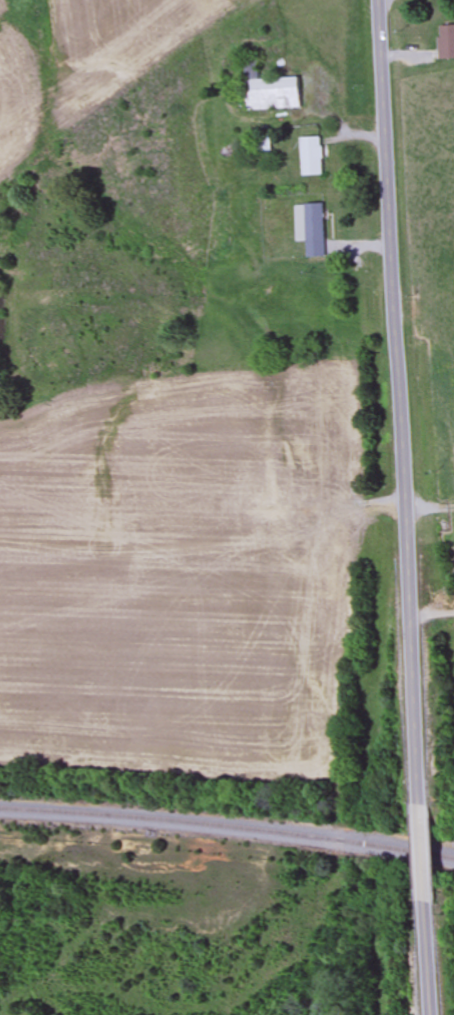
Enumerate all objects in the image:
building: (446, 42)
building: (269, 90)
building: (311, 156)
building: (310, 228)
road: (397, 401)
railway: (227, 825)
road: (426, 852)
road: (432, 958)

